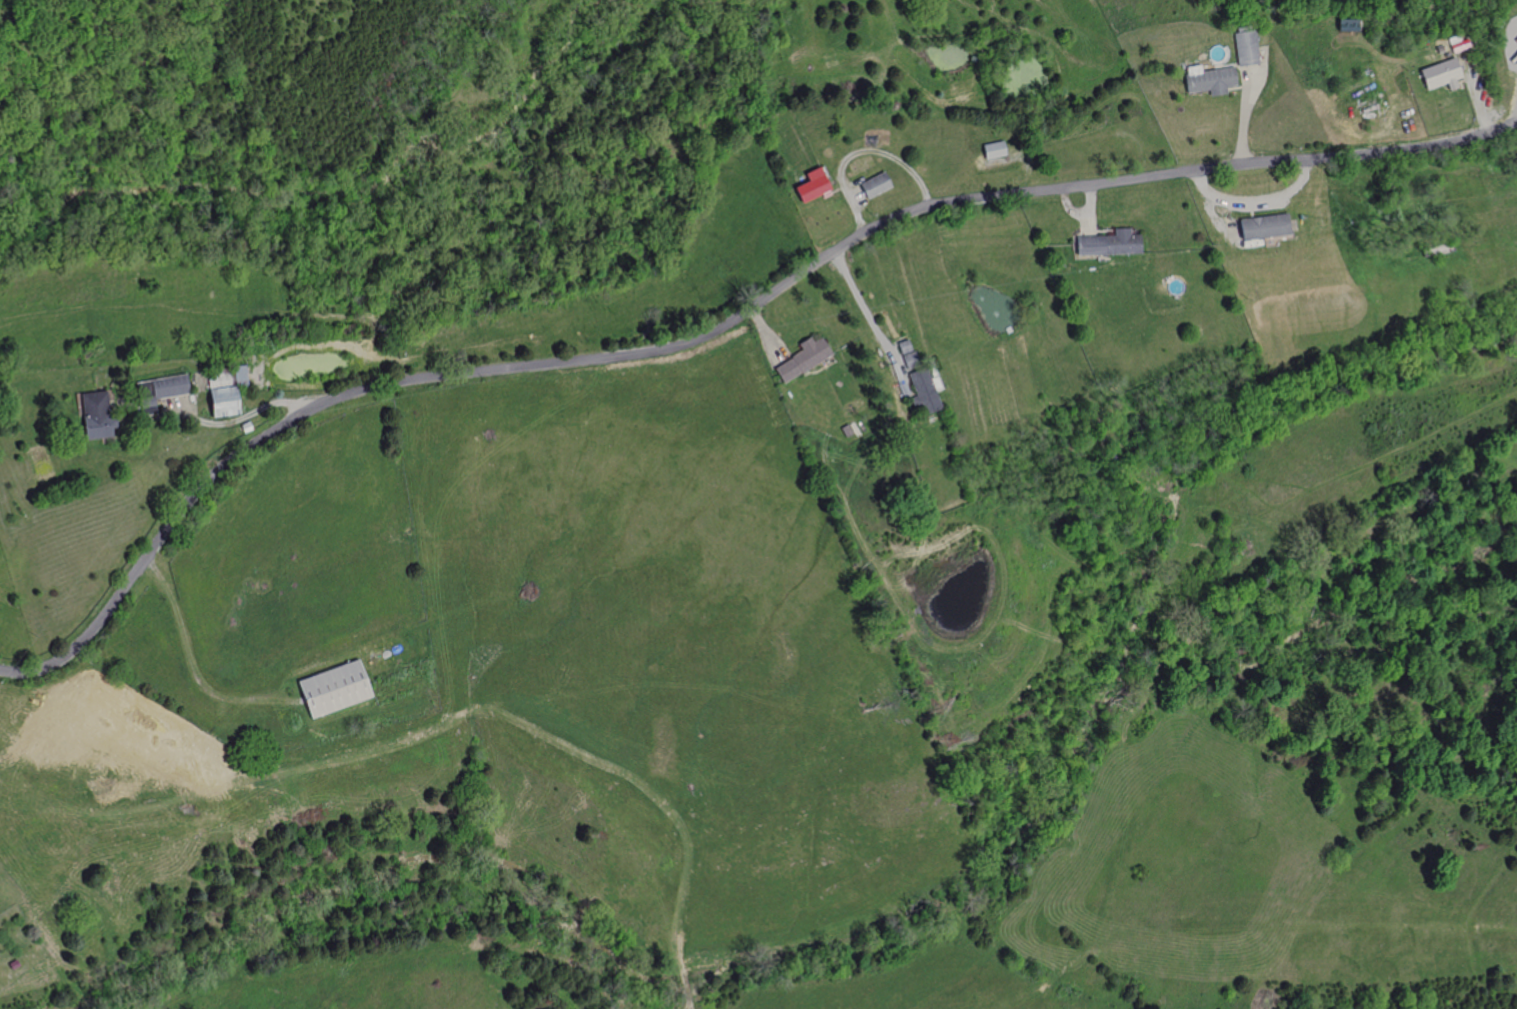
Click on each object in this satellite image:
building: (1346, 24)
building: (1458, 45)
building: (1244, 46)
building: (1438, 49)
building: (1439, 74)
building: (1209, 80)
road: (1462, 80)
road: (1237, 89)
road: (1477, 98)
road: (1245, 114)
road: (1516, 120)
building: (993, 150)
road: (859, 152)
building: (875, 185)
building: (811, 186)
road: (1255, 204)
road: (1069, 208)
road: (1090, 210)
road: (1252, 211)
road: (1216, 218)
building: (1264, 226)
road: (1100, 231)
building: (1109, 243)
building: (1436, 248)
building: (1060, 265)
road: (866, 313)
road: (717, 326)
road: (766, 335)
building: (903, 347)
building: (801, 358)
building: (910, 360)
building: (899, 379)
building: (227, 390)
building: (160, 391)
building: (920, 392)
building: (98, 416)
road: (148, 416)
road: (238, 418)
building: (248, 427)
building: (845, 431)
building: (334, 688)
road: (447, 723)

